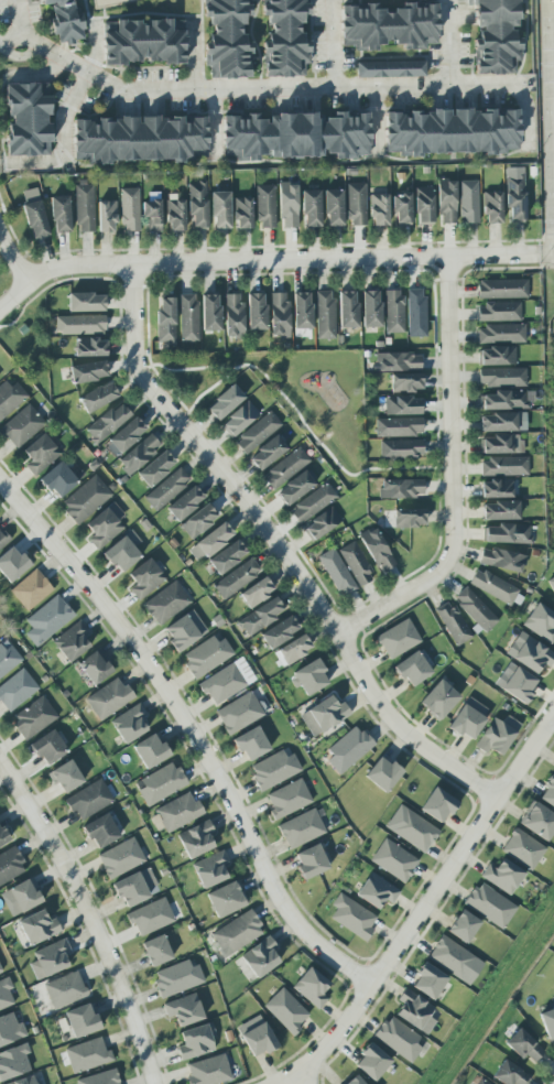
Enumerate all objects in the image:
road: (20, 20)
building: (65, 21)
building: (389, 26)
building: (496, 36)
building: (227, 39)
building: (285, 39)
road: (24, 41)
building: (142, 42)
road: (449, 42)
road: (333, 43)
building: (390, 69)
road: (279, 87)
road: (552, 100)
building: (28, 119)
building: (453, 132)
building: (295, 135)
building: (140, 139)
road: (64, 143)
building: (513, 195)
building: (446, 202)
building: (468, 202)
building: (197, 203)
building: (356, 204)
building: (287, 205)
building: (423, 205)
building: (264, 206)
building: (333, 207)
building: (491, 207)
building: (84, 208)
building: (311, 208)
building: (401, 208)
building: (129, 209)
building: (378, 209)
building: (219, 210)
building: (174, 213)
building: (241, 213)
building: (33, 214)
building: (59, 214)
building: (106, 216)
building: (151, 216)
road: (11, 257)
road: (544, 257)
road: (260, 261)
building: (501, 289)
building: (85, 302)
building: (370, 308)
building: (347, 310)
building: (256, 311)
building: (301, 311)
building: (392, 311)
building: (498, 312)
building: (209, 313)
building: (415, 313)
building: (278, 314)
building: (324, 314)
building: (232, 315)
building: (187, 317)
building: (165, 321)
building: (79, 324)
building: (501, 334)
building: (89, 347)
building: (496, 356)
building: (397, 361)
building: (87, 371)
building: (501, 377)
building: (405, 382)
building: (97, 397)
building: (10, 398)
building: (503, 400)
building: (224, 402)
road: (447, 402)
building: (403, 405)
building: (238, 419)
building: (107, 422)
building: (498, 422)
building: (22, 425)
building: (398, 426)
building: (257, 433)
building: (124, 436)
building: (500, 444)
building: (401, 447)
building: (267, 453)
building: (40, 454)
building: (138, 454)
building: (503, 466)
building: (155, 468)
building: (285, 468)
building: (57, 479)
building: (166, 488)
building: (294, 488)
building: (400, 488)
building: (497, 488)
building: (85, 499)
building: (184, 502)
building: (312, 503)
building: (499, 510)
building: (409, 518)
building: (198, 521)
building: (321, 523)
building: (102, 528)
building: (507, 533)
building: (2, 540)
building: (209, 542)
road: (278, 549)
building: (377, 550)
building: (123, 551)
building: (227, 557)
building: (501, 560)
building: (11, 564)
building: (356, 564)
building: (335, 572)
building: (144, 578)
building: (236, 578)
building: (551, 583)
building: (492, 586)
building: (31, 589)
building: (256, 592)
road: (398, 596)
building: (165, 603)
building: (475, 609)
building: (261, 616)
building: (46, 619)
building: (540, 622)
building: (452, 624)
building: (184, 630)
building: (279, 632)
building: (397, 638)
building: (72, 641)
building: (292, 650)
building: (529, 653)
building: (205, 655)
building: (8, 659)
building: (94, 668)
building: (411, 669)
building: (308, 677)
building: (226, 681)
building: (519, 685)
building: (15, 689)
building: (108, 698)
building: (438, 700)
building: (238, 712)
building: (323, 715)
building: (33, 717)
building: (468, 717)
building: (129, 723)
road: (192, 731)
building: (497, 735)
building: (250, 742)
building: (47, 748)
building: (348, 749)
building: (150, 751)
building: (273, 769)
building: (382, 773)
building: (65, 777)
building: (160, 782)
building: (547, 792)
building: (287, 798)
building: (88, 800)
building: (437, 804)
building: (178, 812)
building: (537, 820)
building: (301, 828)
building: (411, 828)
building: (99, 831)
building: (3, 836)
building: (195, 838)
building: (522, 848)
building: (120, 858)
building: (309, 861)
building: (393, 861)
building: (10, 865)
building: (209, 869)
building: (501, 876)
building: (135, 887)
building: (376, 893)
building: (19, 898)
building: (225, 899)
building: (489, 904)
road: (425, 909)
road: (90, 915)
building: (150, 917)
building: (352, 919)
building: (463, 925)
building: (37, 926)
building: (236, 933)
building: (155, 951)
building: (260, 957)
building: (50, 958)
building: (454, 961)
building: (0, 972)
building: (176, 978)
building: (428, 984)
building: (311, 987)
building: (64, 989)
building: (4, 994)
building: (183, 1009)
building: (285, 1010)
building: (414, 1011)
building: (80, 1020)
building: (547, 1025)
building: (10, 1029)
building: (256, 1037)
building: (398, 1040)
building: (195, 1041)
building: (523, 1045)
building: (86, 1055)
building: (13, 1062)
building: (371, 1062)
building: (207, 1071)
building: (509, 1074)
building: (99, 1077)
building: (354, 1080)
building: (23, 1081)
building: (480, 1082)

